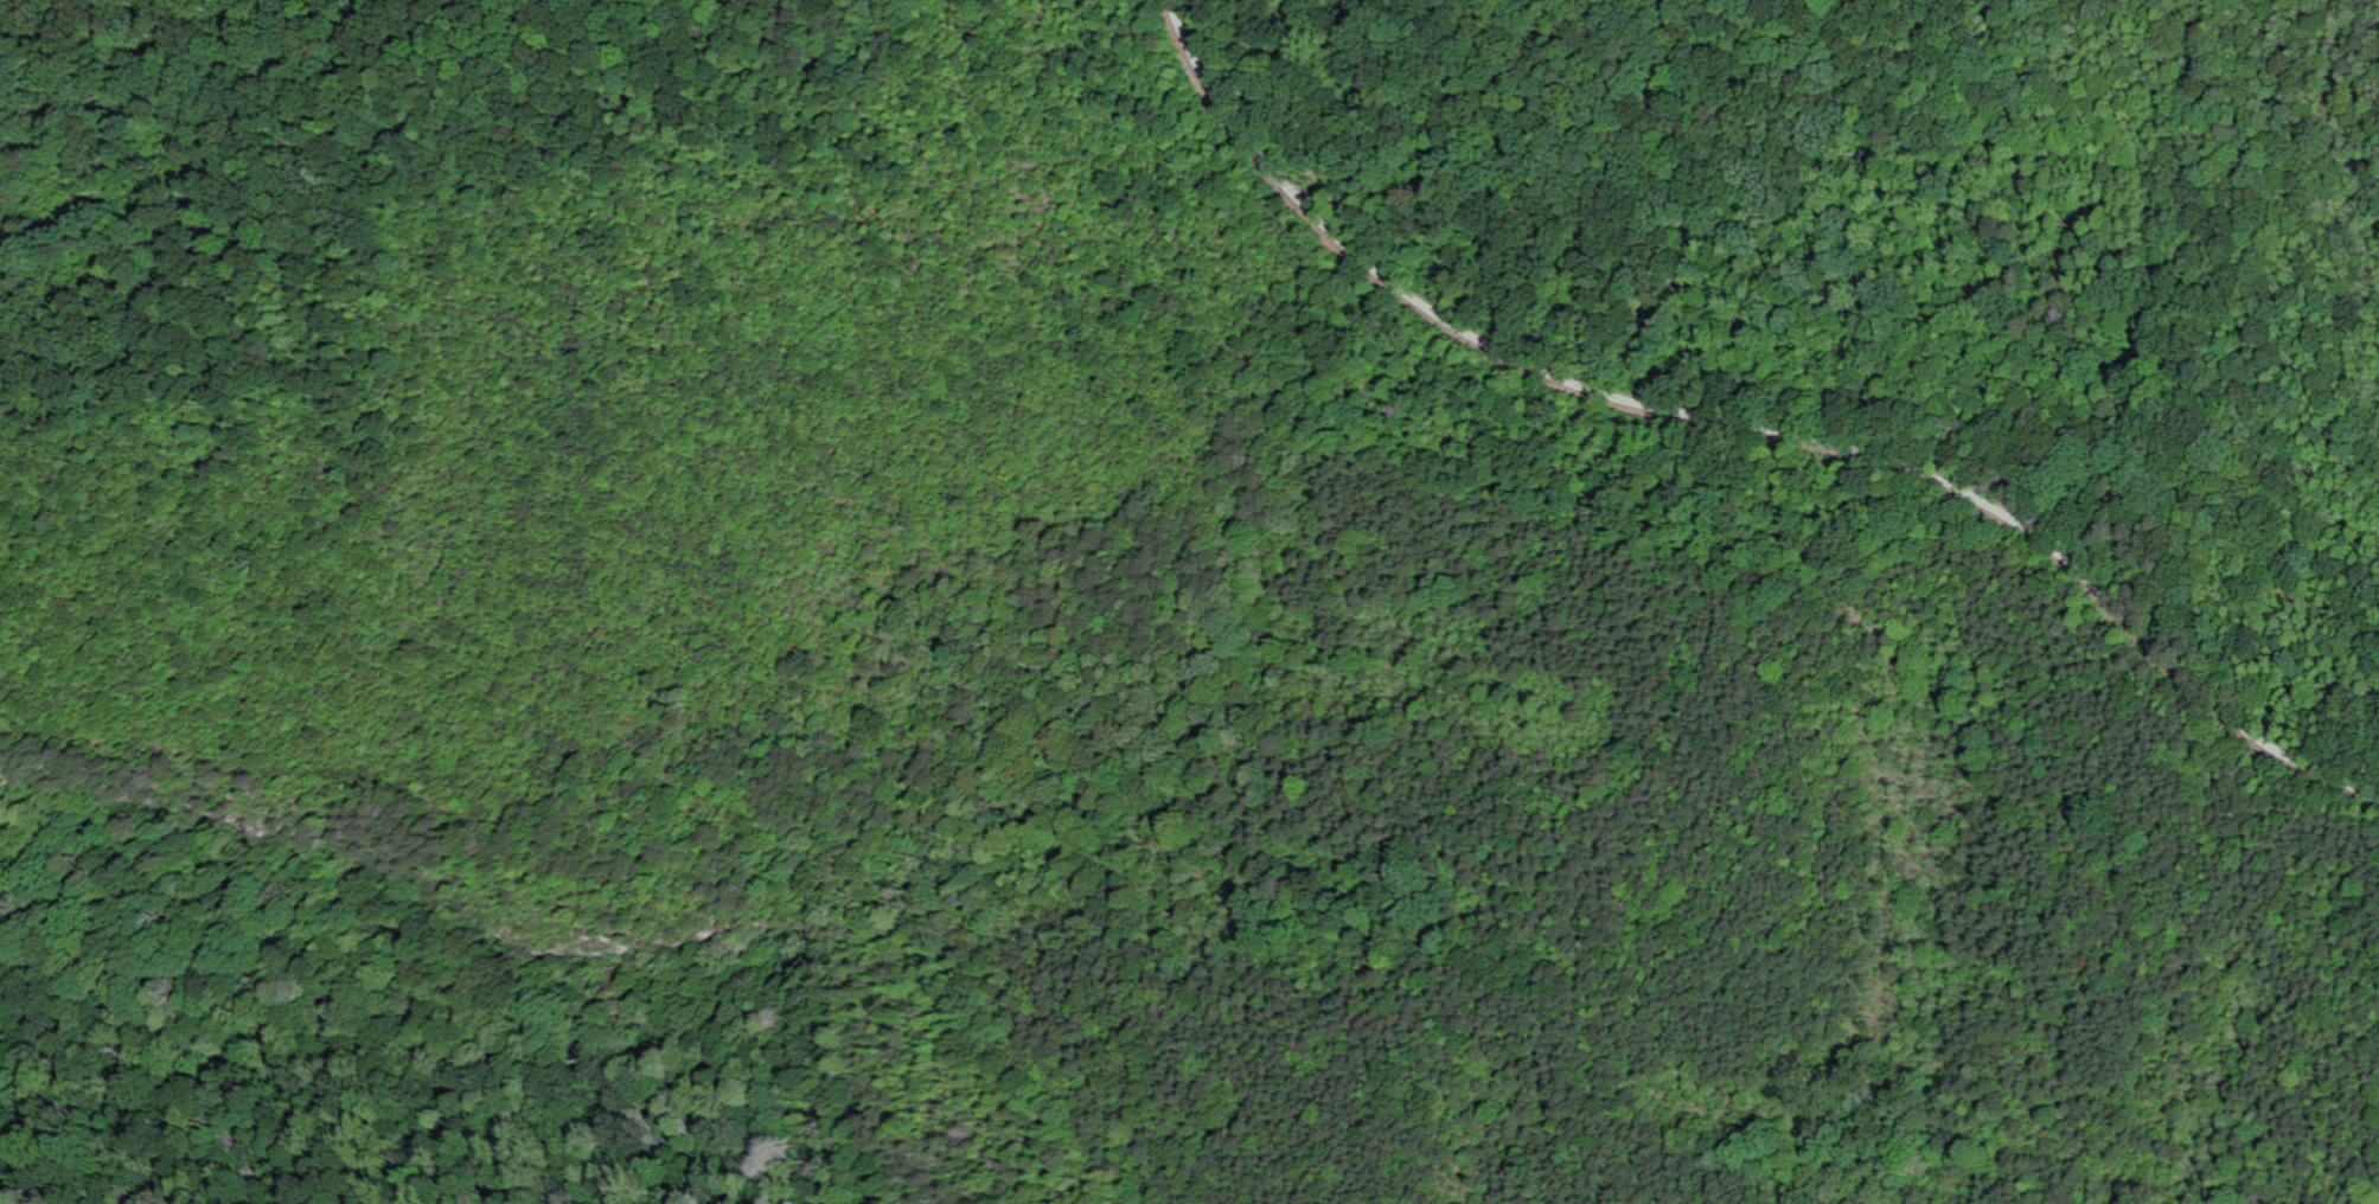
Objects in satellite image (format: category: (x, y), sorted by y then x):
park: (8, 18)
road: (1739, 428)
park: (504, 972)

